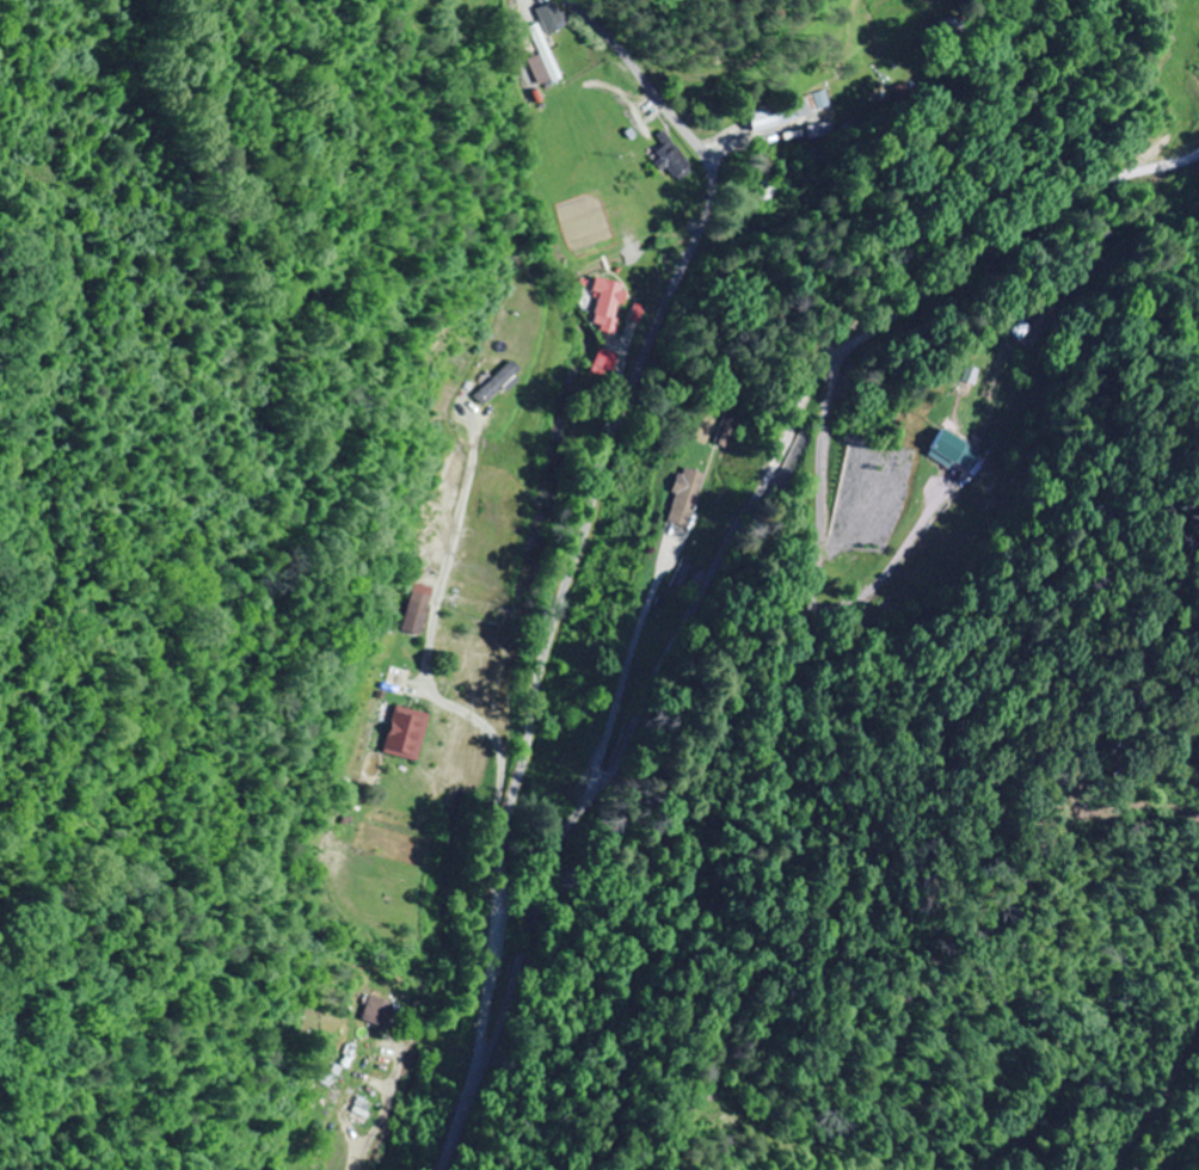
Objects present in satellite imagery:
building: (406, 0)
building: (553, 16)
building: (546, 50)
building: (773, 113)
building: (675, 159)
building: (605, 295)
building: (723, 430)
building: (952, 449)
building: (682, 495)
road: (748, 522)
road: (583, 555)
building: (413, 618)
road: (493, 726)
building: (404, 732)
building: (375, 1010)

